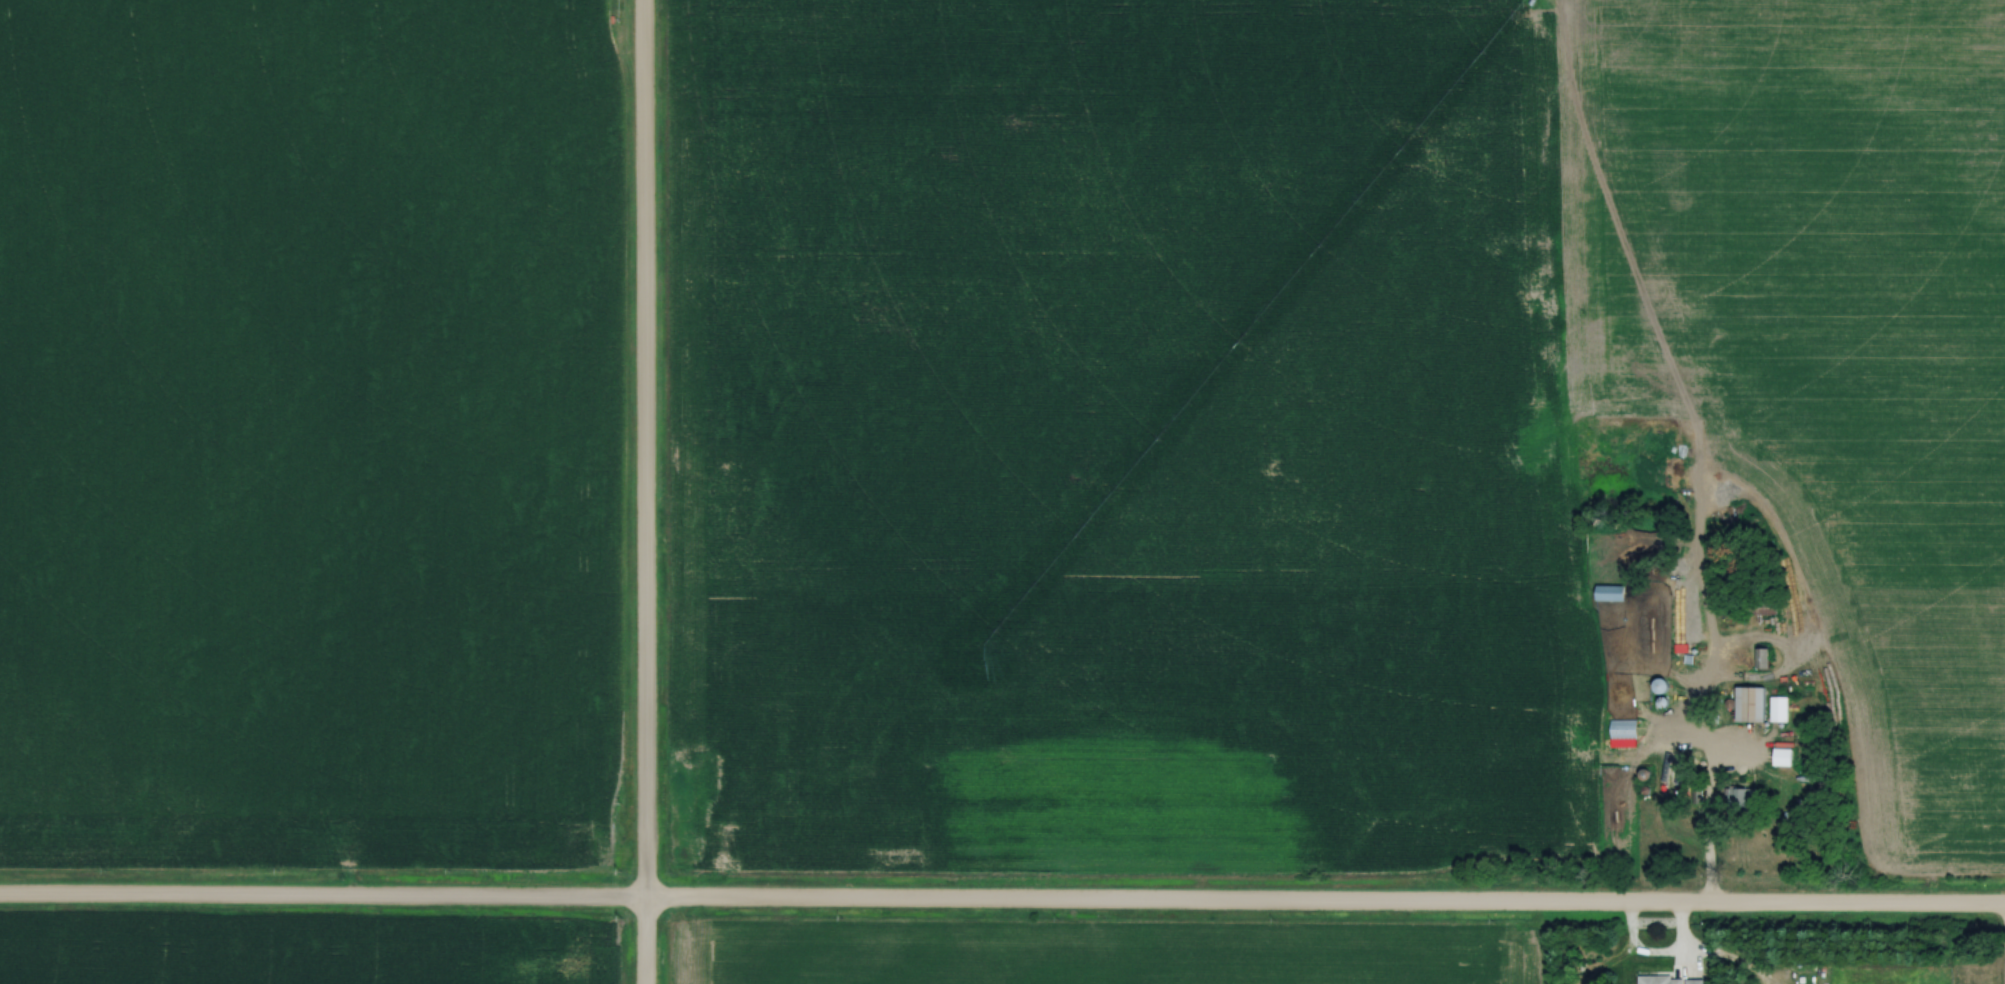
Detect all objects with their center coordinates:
road: (641, 492)
building: (1608, 592)
building: (1758, 606)
building: (1684, 626)
building: (1748, 704)
building: (1621, 732)
building: (1780, 756)
road: (1707, 805)
road: (1002, 901)
road: (2004, 915)
road: (1654, 953)
building: (1669, 980)

